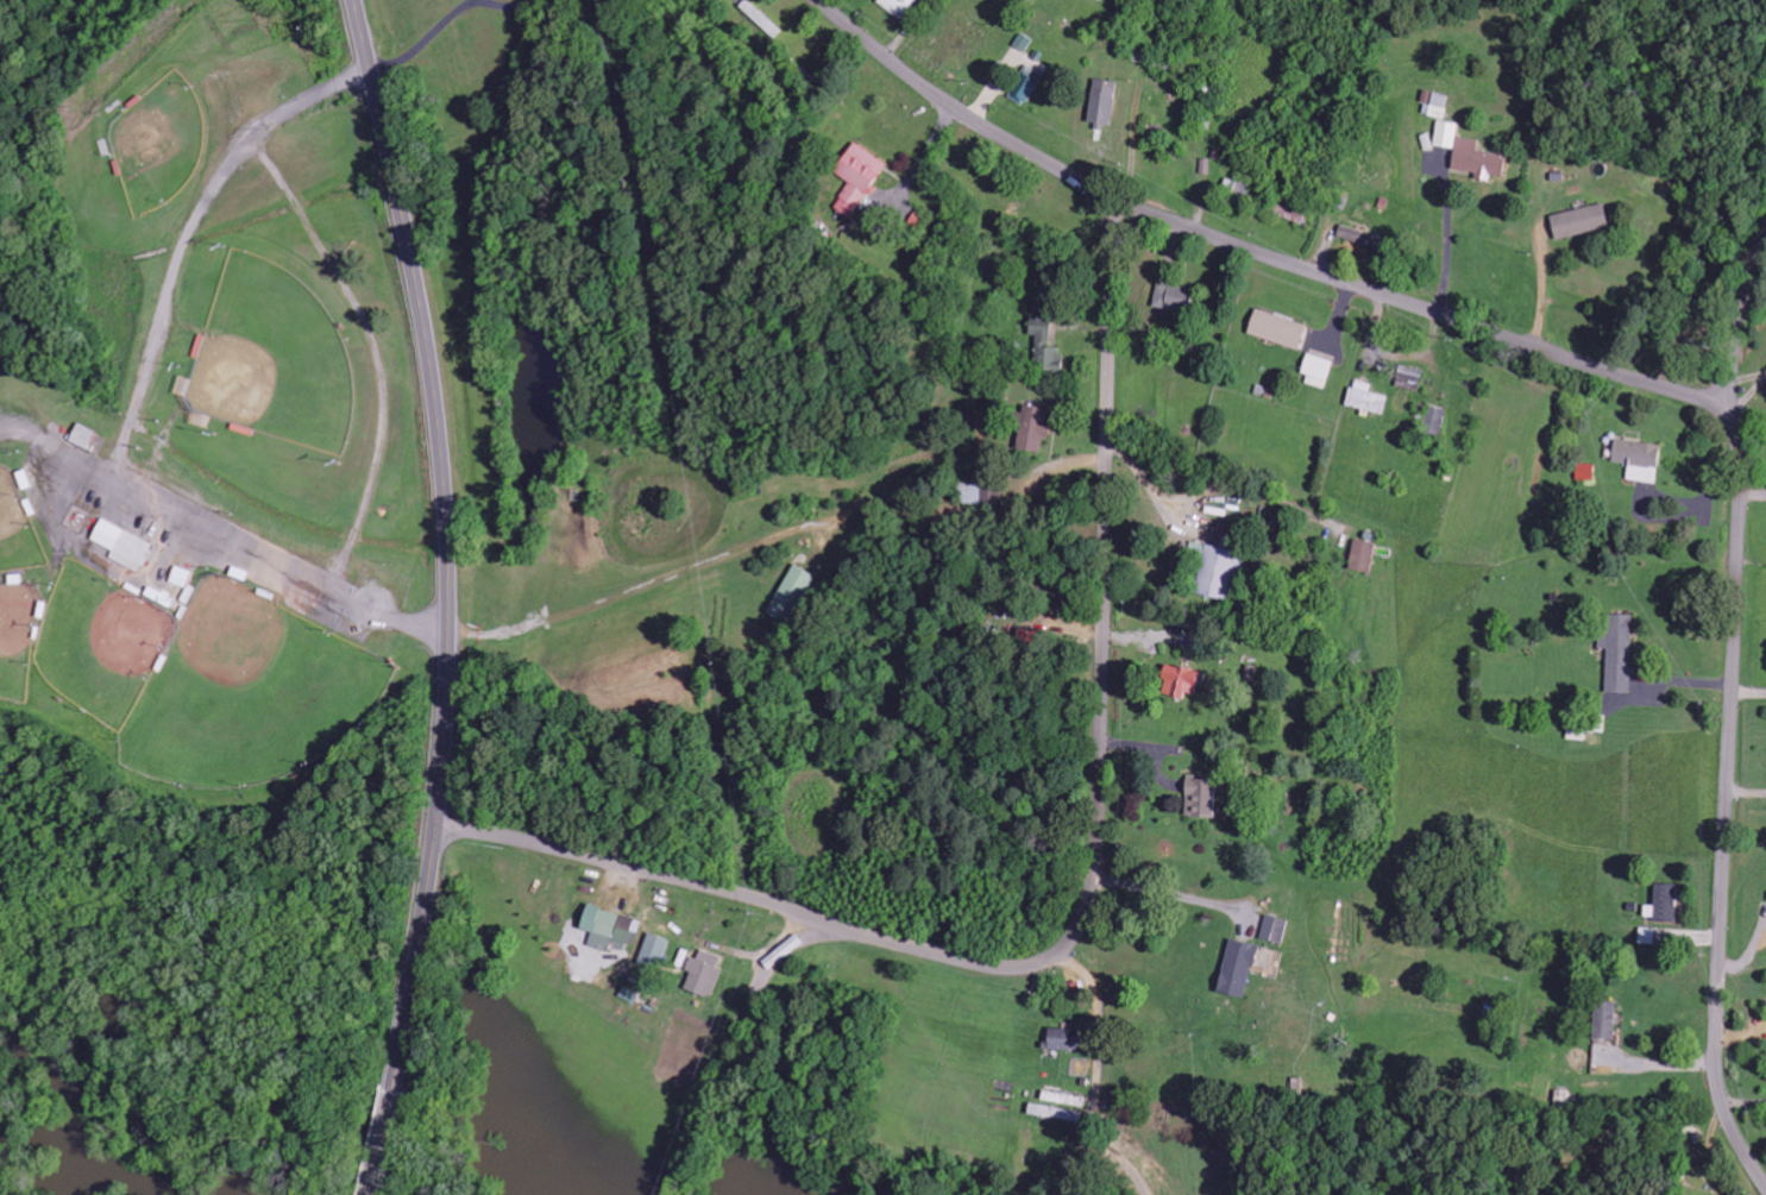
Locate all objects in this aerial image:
building: (897, 6)
building: (1023, 42)
building: (1029, 81)
building: (1101, 101)
building: (1439, 105)
building: (1446, 133)
building: (857, 172)
building: (1236, 185)
building: (1579, 221)
building: (1350, 233)
building: (1173, 297)
road: (1739, 319)
building: (1277, 328)
building: (1044, 345)
building: (1318, 371)
road: (1627, 372)
building: (1409, 377)
building: (1365, 397)
building: (1435, 420)
building: (1032, 427)
building: (81, 435)
building: (1638, 459)
building: (1584, 472)
road: (447, 541)
building: (120, 543)
building: (1362, 554)
building: (1215, 571)
building: (792, 593)
building: (1619, 652)
building: (1179, 680)
building: (1199, 797)
road: (1086, 894)
building: (1665, 901)
building: (609, 929)
building: (1274, 929)
building: (654, 950)
building: (1237, 968)
building: (703, 974)
building: (1604, 1020)
building: (1066, 1039)
building: (1061, 1111)
river: (81, 1130)
road: (384, 1141)

